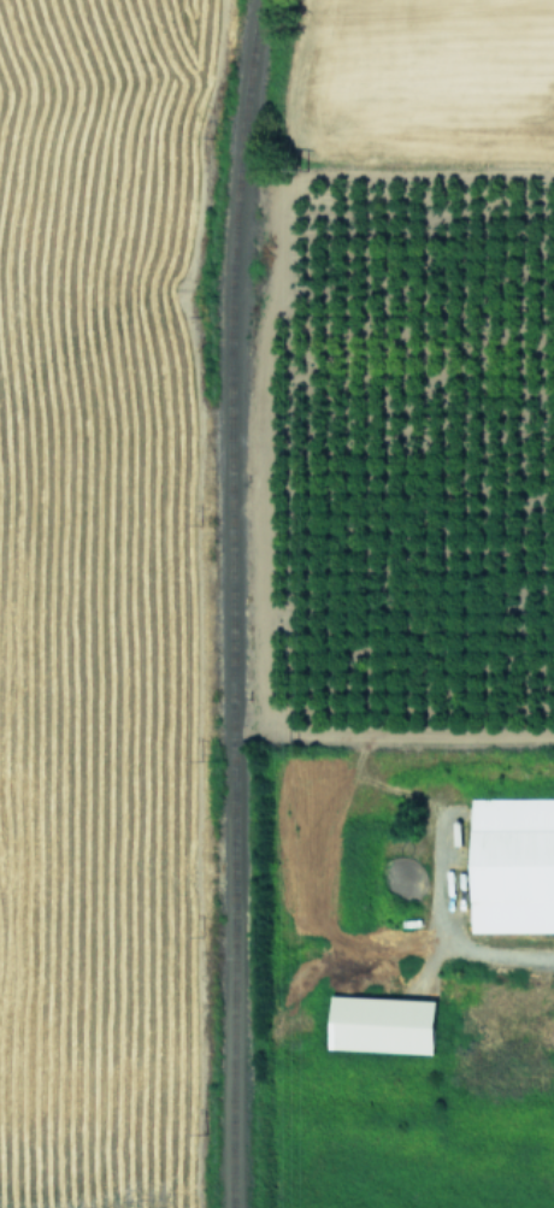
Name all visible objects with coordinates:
crop: (430, 366)
railway: (229, 602)
building: (512, 864)
building: (381, 1024)

